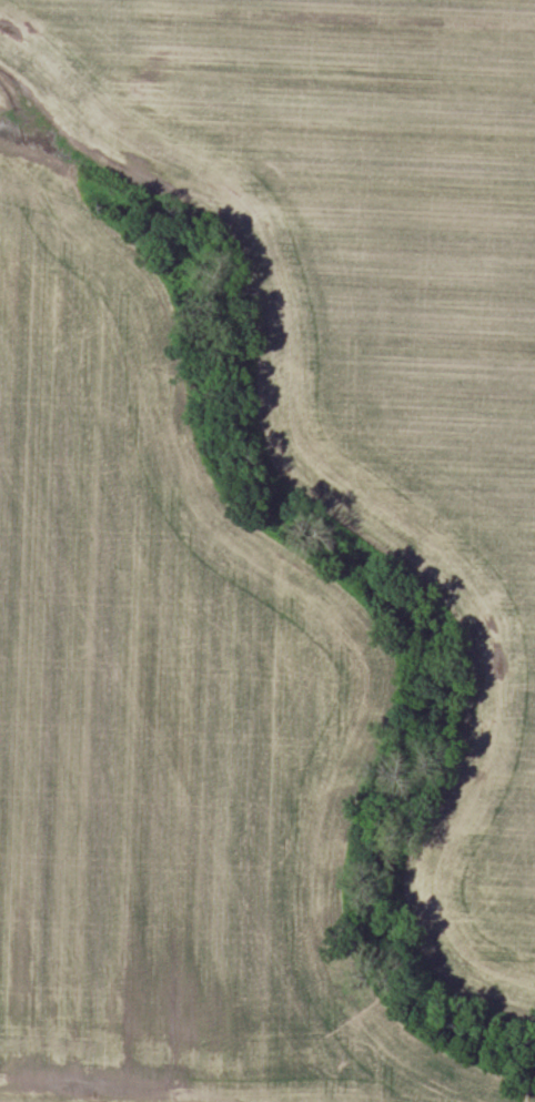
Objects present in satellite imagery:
crop: (259, 538)

